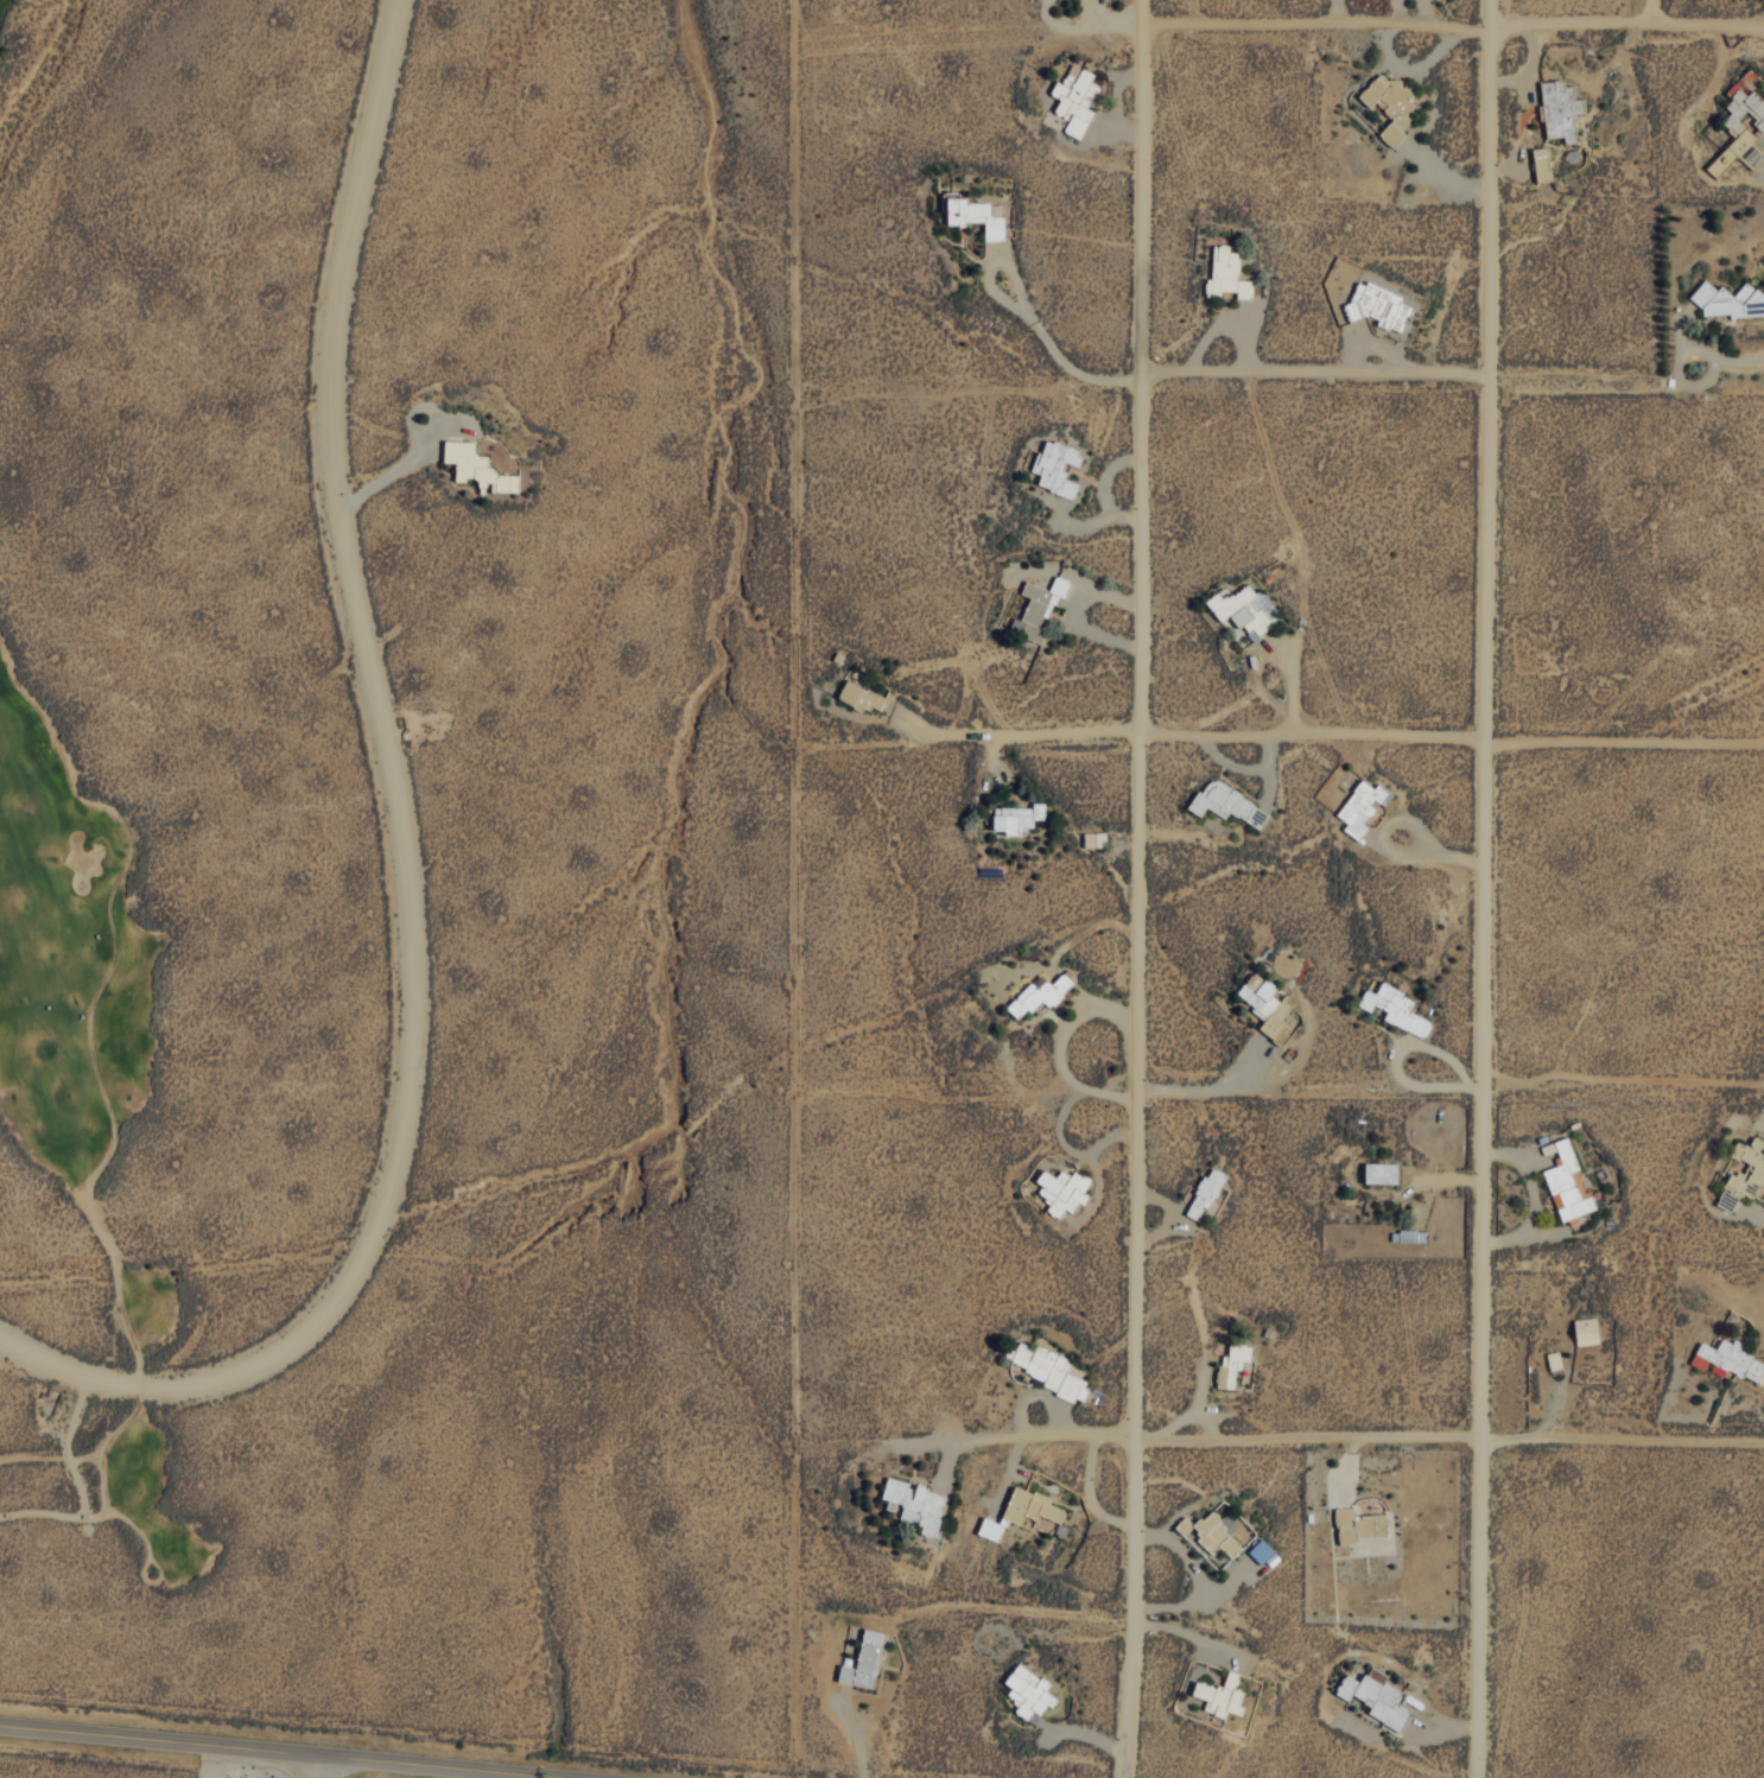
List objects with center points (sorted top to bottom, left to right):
road: (1454, 27)
park: (44, 82)
building: (1075, 97)
building: (1391, 104)
building: (1559, 109)
building: (1733, 125)
building: (1541, 164)
building: (975, 215)
building: (1226, 273)
building: (1728, 299)
building: (1379, 305)
road: (1314, 377)
building: (476, 465)
building: (1057, 465)
building: (1038, 608)
building: (1245, 609)
building: (859, 694)
road: (1379, 741)
building: (1227, 802)
building: (1360, 806)
building: (1016, 818)
building: (1094, 839)
road: (399, 842)
road: (1480, 888)
road: (1136, 889)
building: (1039, 995)
building: (1268, 1007)
building: (1396, 1008)
park: (102, 1149)
building: (1744, 1174)
building: (1383, 1182)
building: (1062, 1189)
building: (1571, 1190)
building: (1205, 1193)
building: (1411, 1234)
building: (1588, 1336)
building: (1554, 1359)
building: (1728, 1360)
building: (1232, 1364)
building: (1051, 1370)
road: (1446, 1444)
building: (915, 1504)
building: (1020, 1512)
building: (1222, 1531)
building: (1360, 1532)
building: (1264, 1552)
building: (864, 1660)
building: (1028, 1691)
building: (1220, 1695)
building: (1372, 1700)
road: (288, 1751)
road: (321, 1766)

